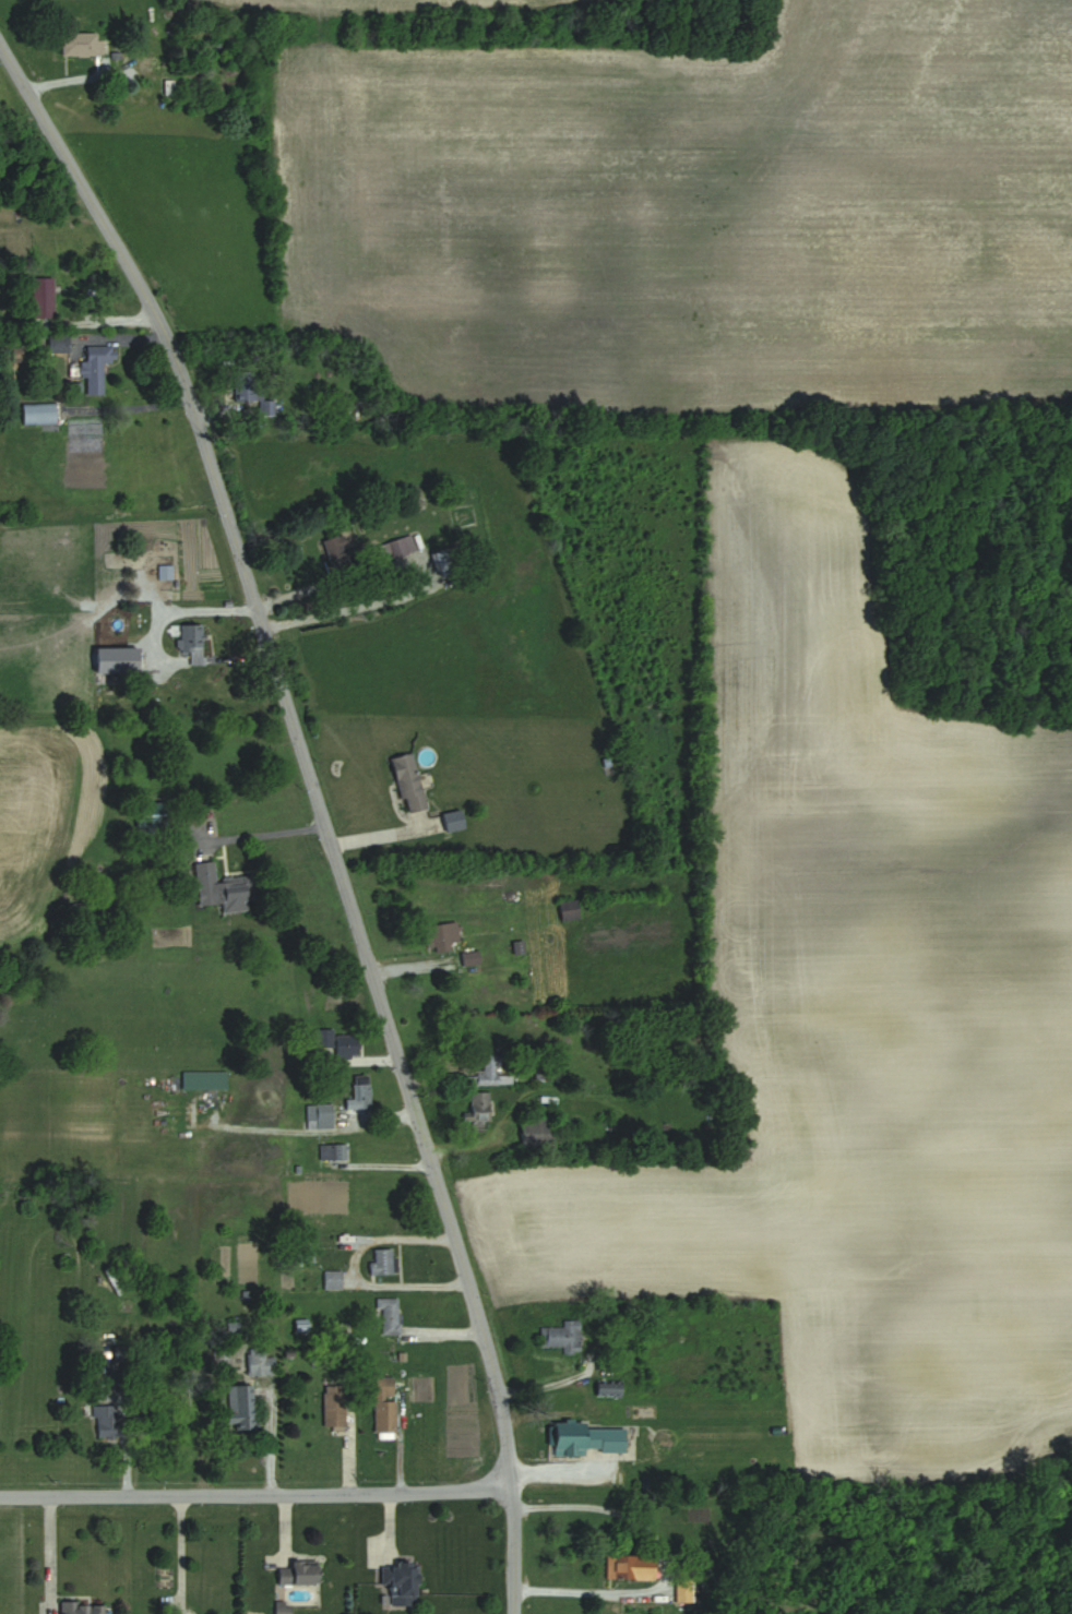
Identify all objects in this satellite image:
building: (80, 44)
building: (41, 297)
building: (57, 343)
building: (95, 368)
building: (250, 392)
building: (38, 414)
building: (396, 548)
building: (985, 551)
building: (341, 553)
building: (440, 564)
road: (415, 572)
road: (186, 612)
building: (191, 644)
building: (118, 661)
building: (407, 781)
road: (321, 808)
road: (262, 835)
building: (222, 888)
building: (568, 909)
building: (441, 936)
building: (336, 1042)
building: (490, 1073)
building: (203, 1079)
building: (358, 1096)
building: (479, 1102)
building: (319, 1115)
building: (536, 1132)
building: (333, 1151)
building: (381, 1262)
building: (331, 1279)
building: (389, 1315)
building: (561, 1337)
building: (259, 1362)
building: (743, 1376)
building: (608, 1389)
building: (384, 1403)
building: (333, 1406)
building: (239, 1407)
building: (107, 1420)
road: (270, 1438)
building: (587, 1438)
road: (262, 1496)
road: (180, 1552)
road: (49, 1556)
road: (664, 1558)
building: (629, 1566)
building: (298, 1574)
building: (400, 1579)
building: (682, 1590)
building: (81, 1607)

